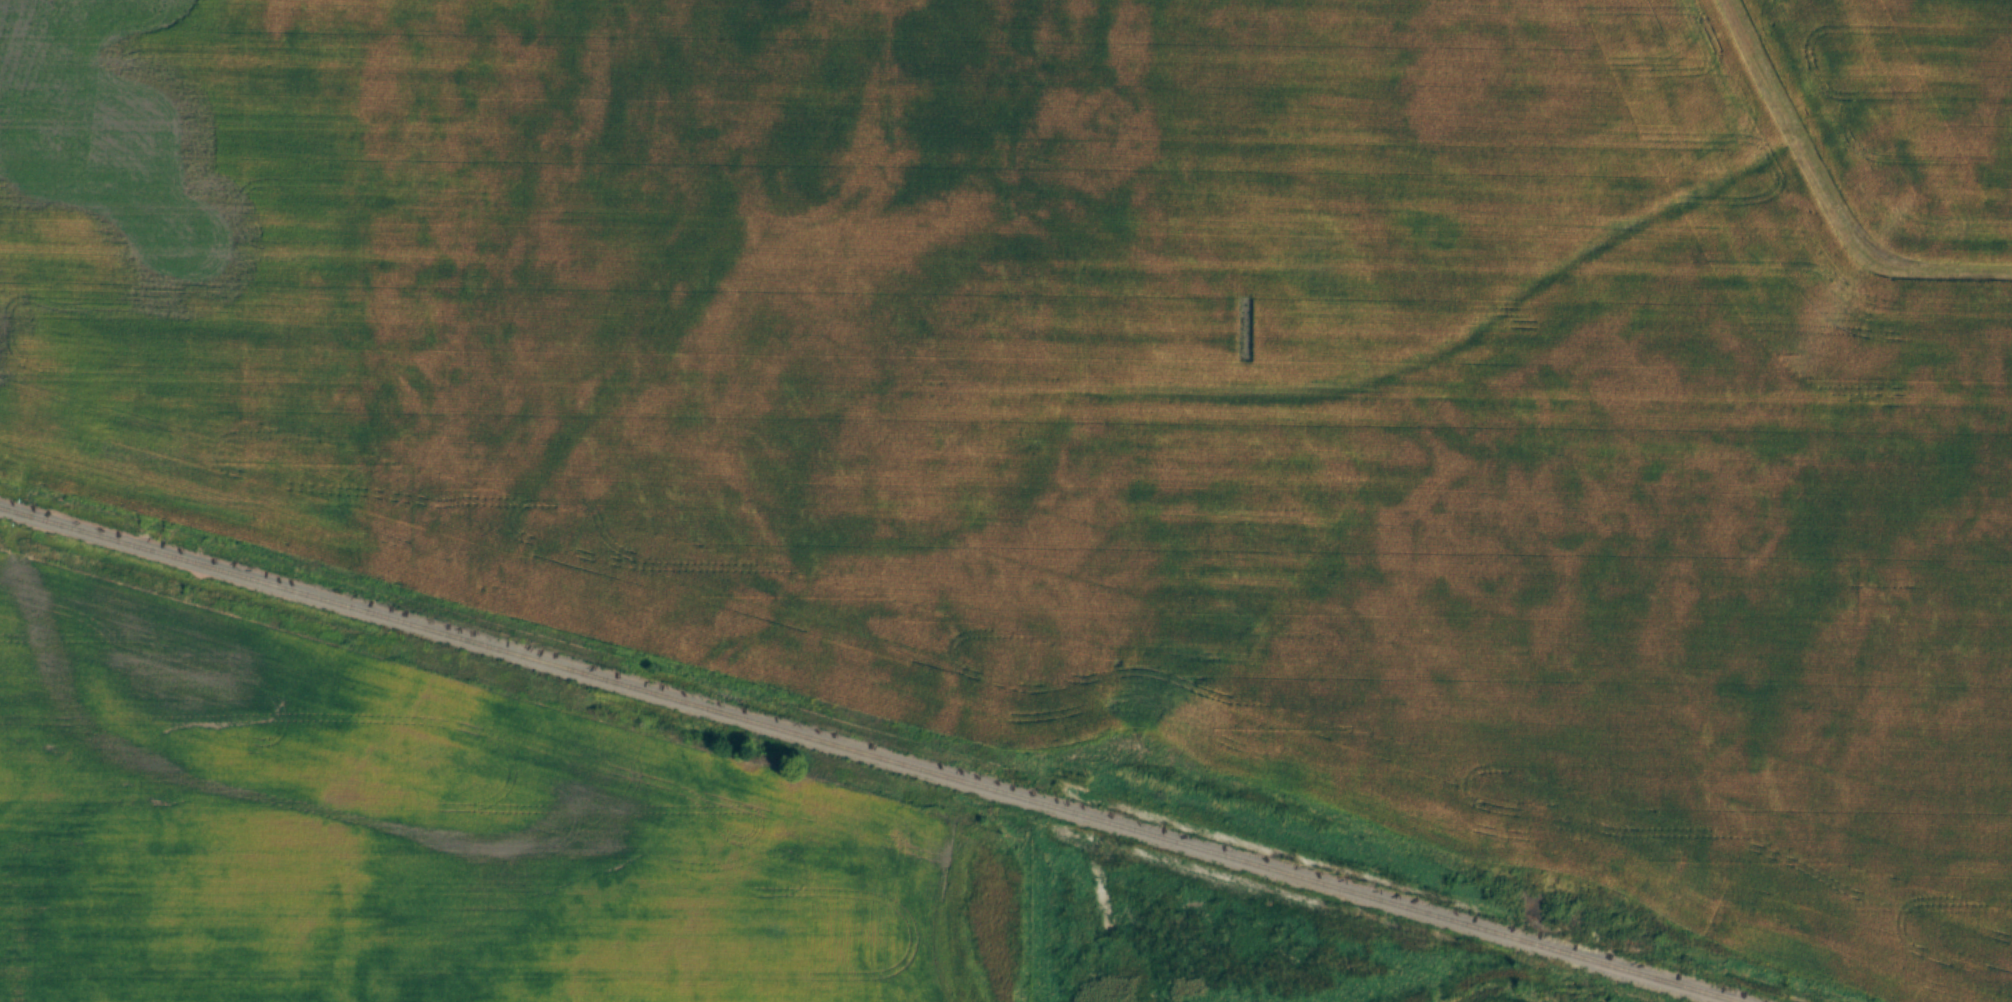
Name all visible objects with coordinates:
railway: (870, 754)

